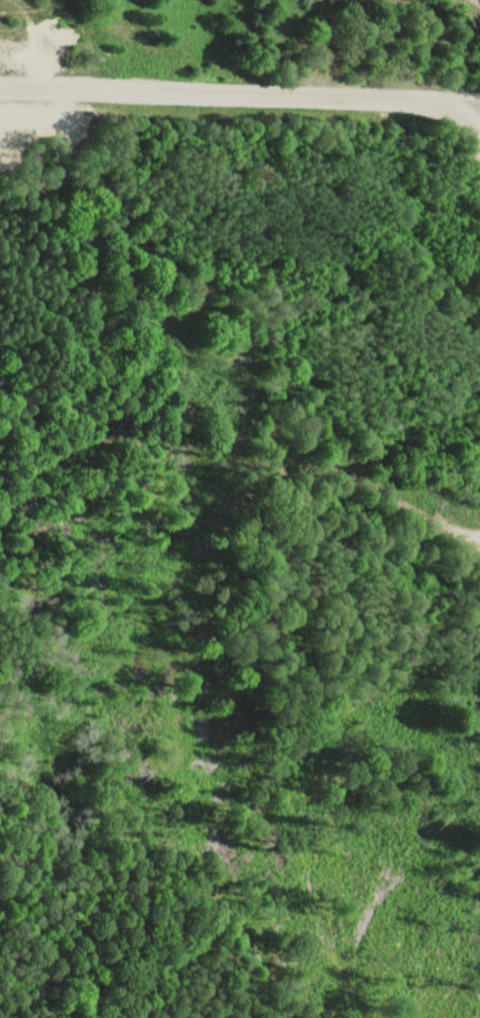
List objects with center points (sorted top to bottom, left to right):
road: (227, 91)
road: (467, 109)

